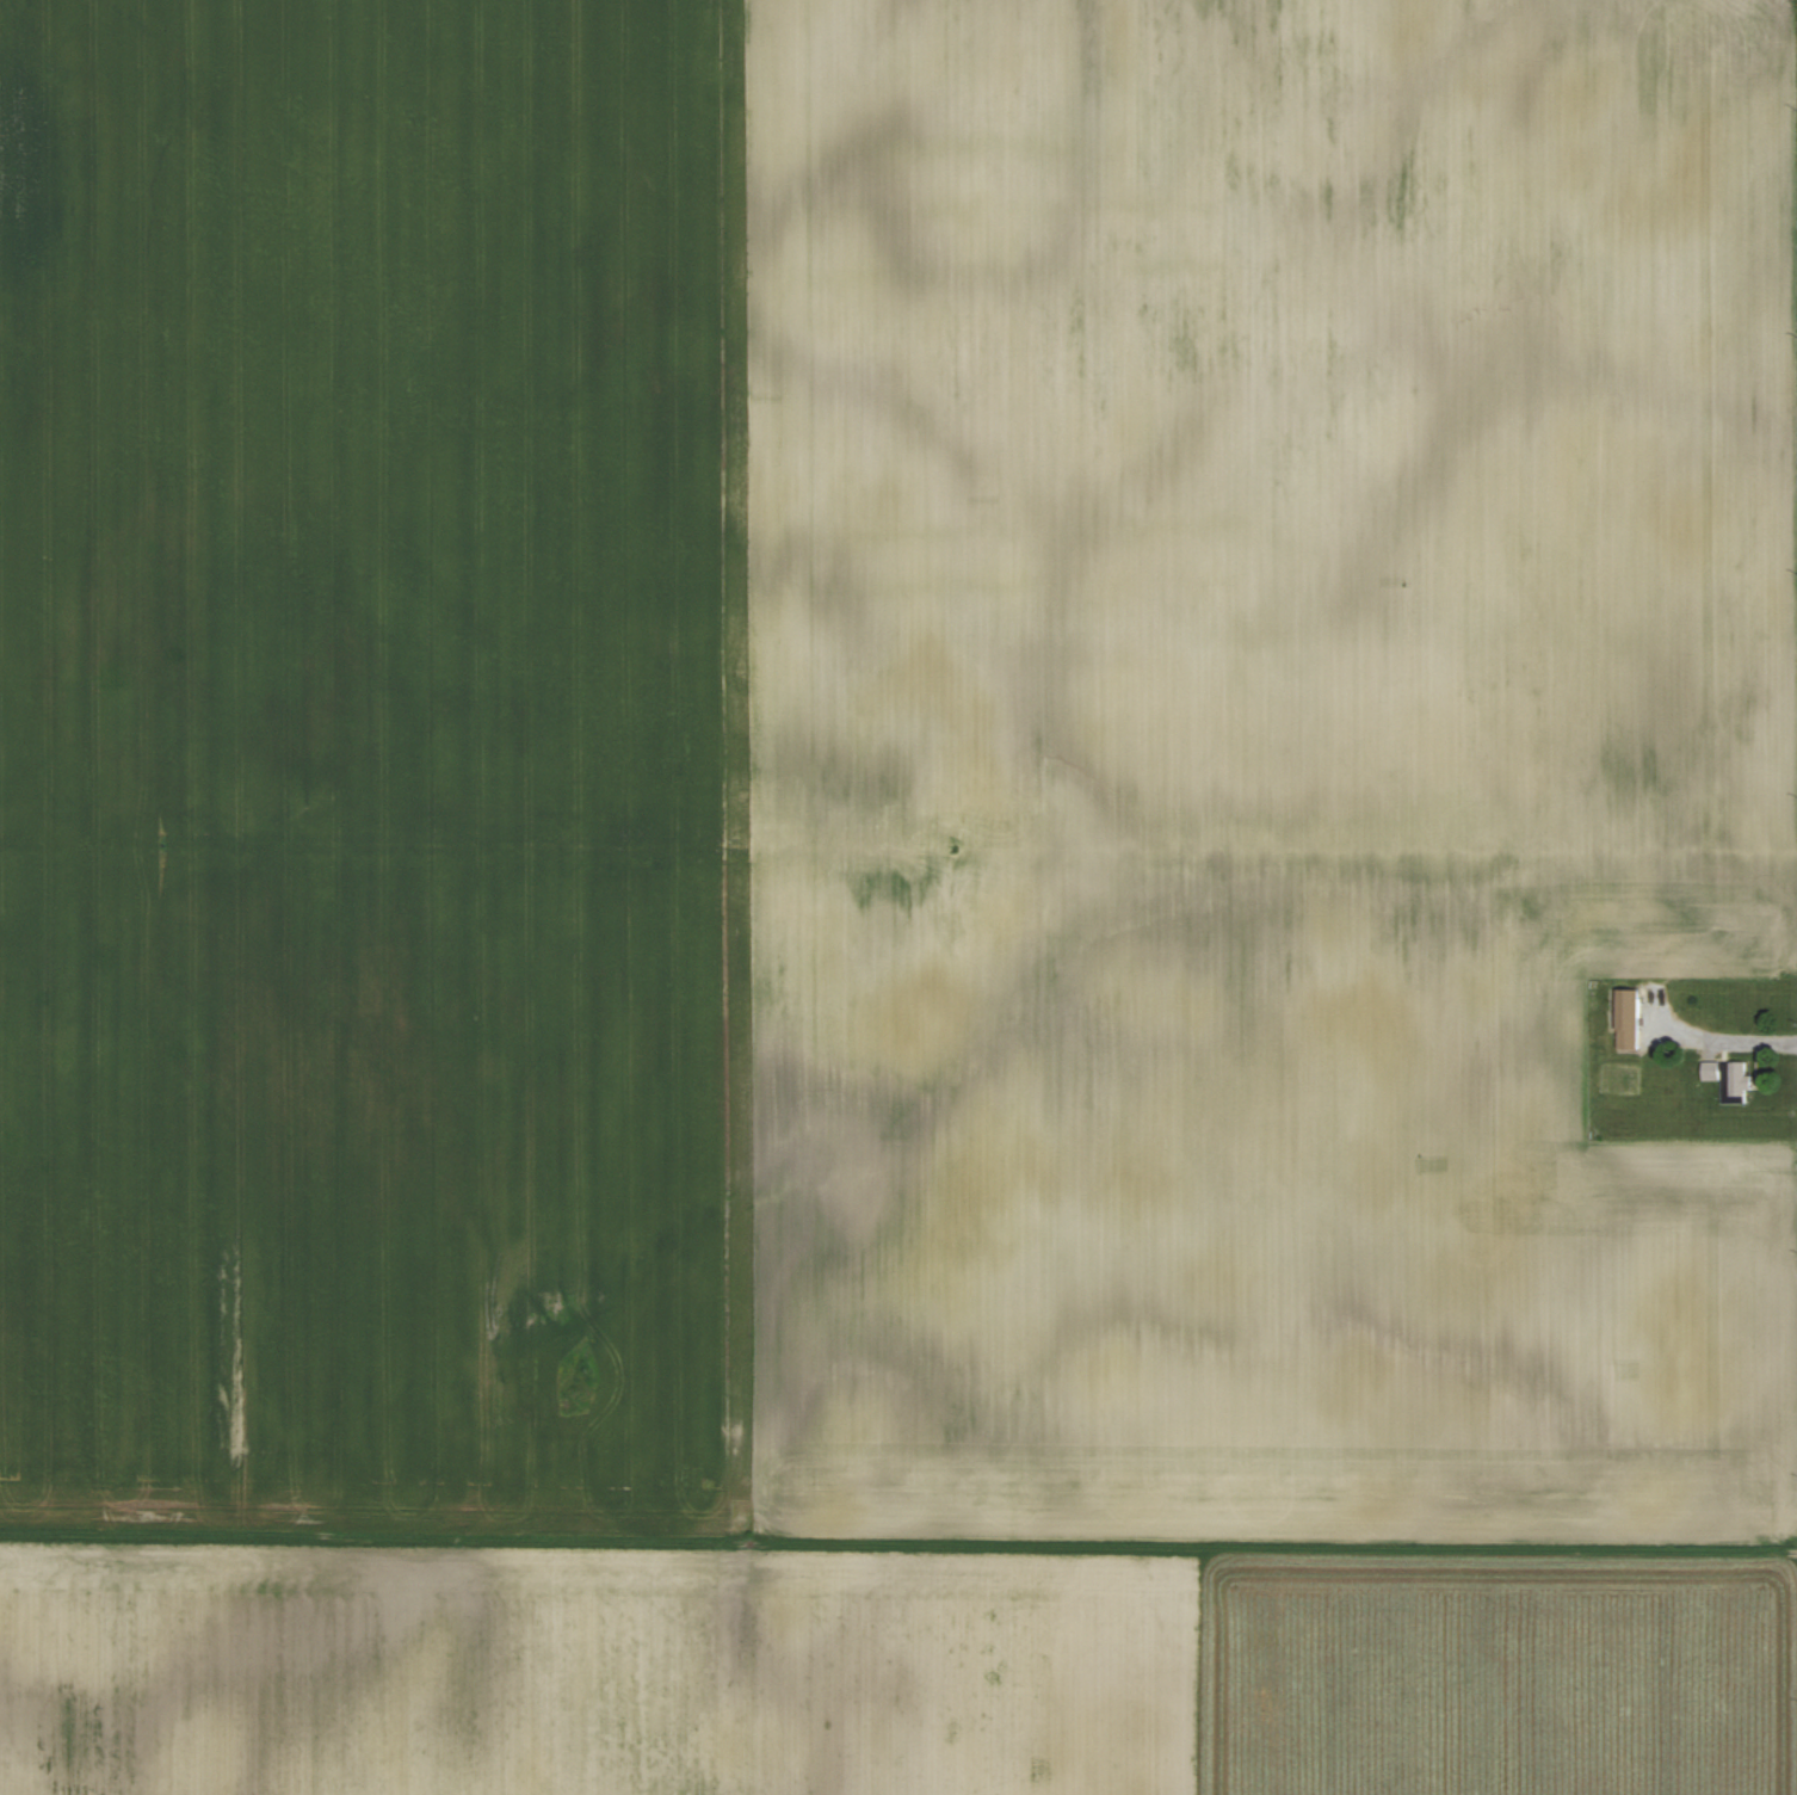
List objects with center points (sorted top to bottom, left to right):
building: (1629, 1018)
building: (1712, 1071)
building: (1739, 1081)

